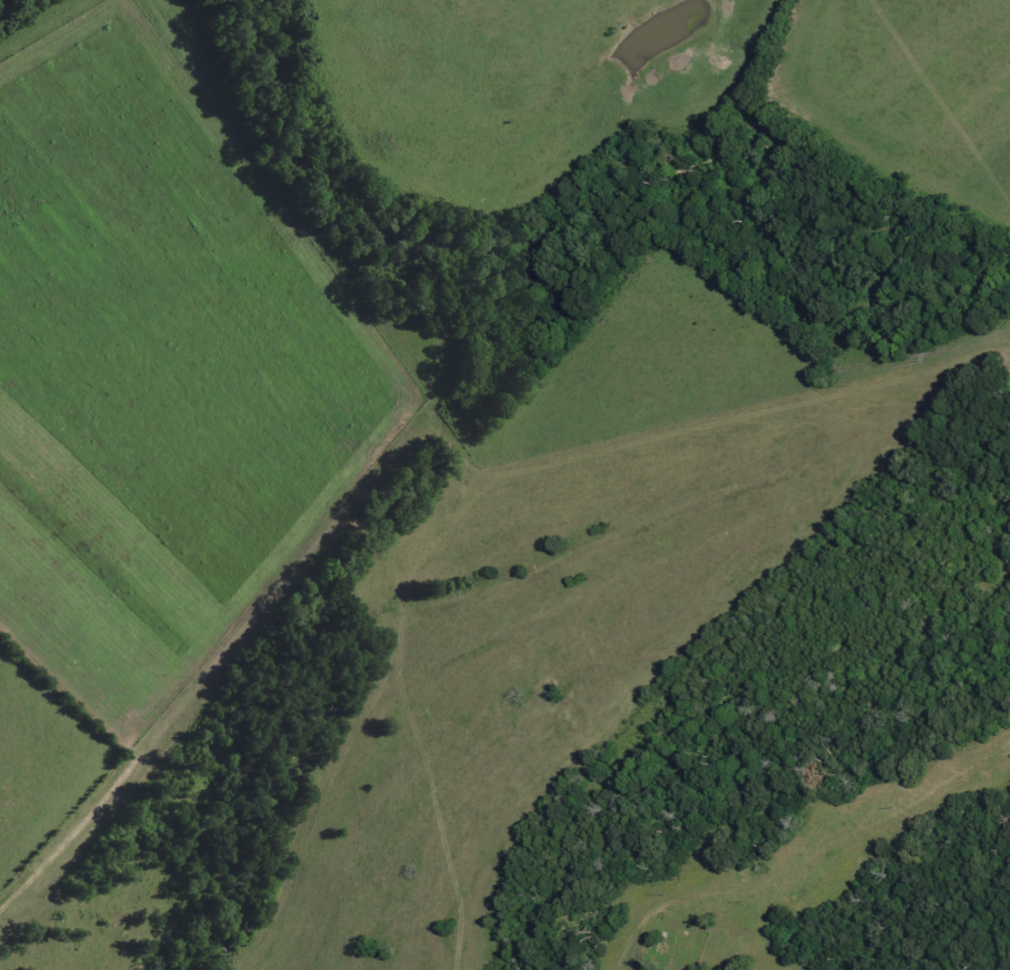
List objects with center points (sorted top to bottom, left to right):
park: (672, 946)

